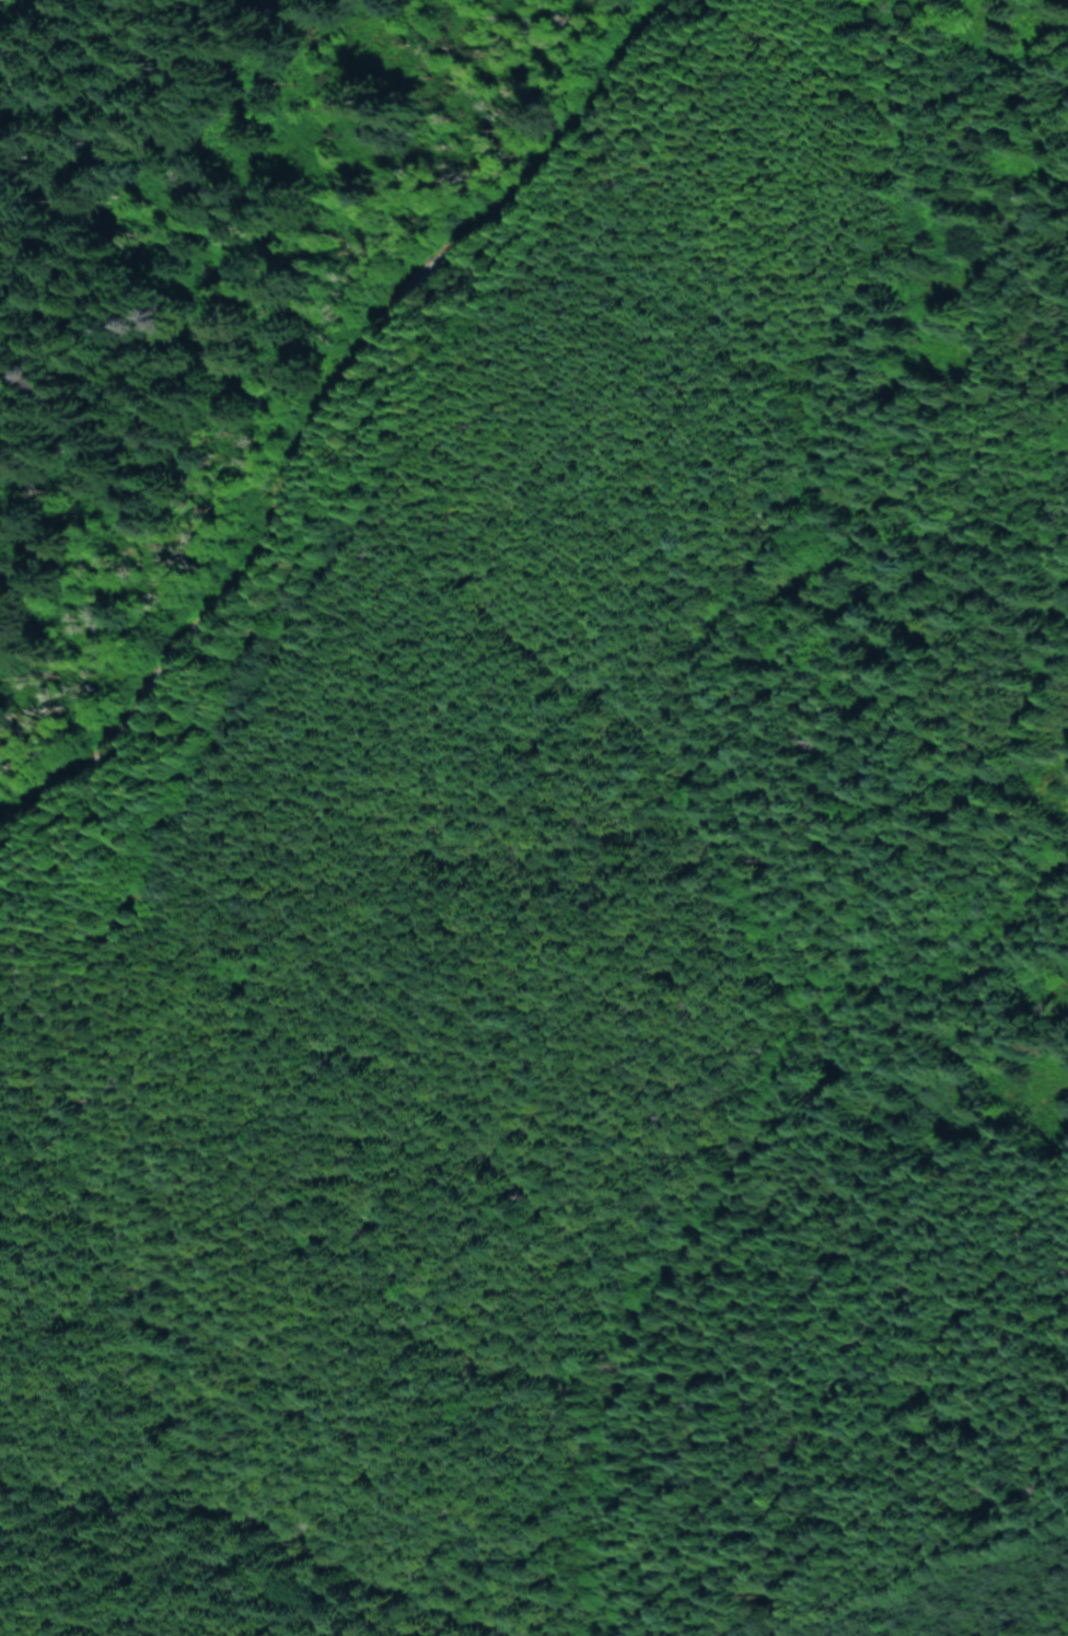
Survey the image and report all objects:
road: (323, 407)

